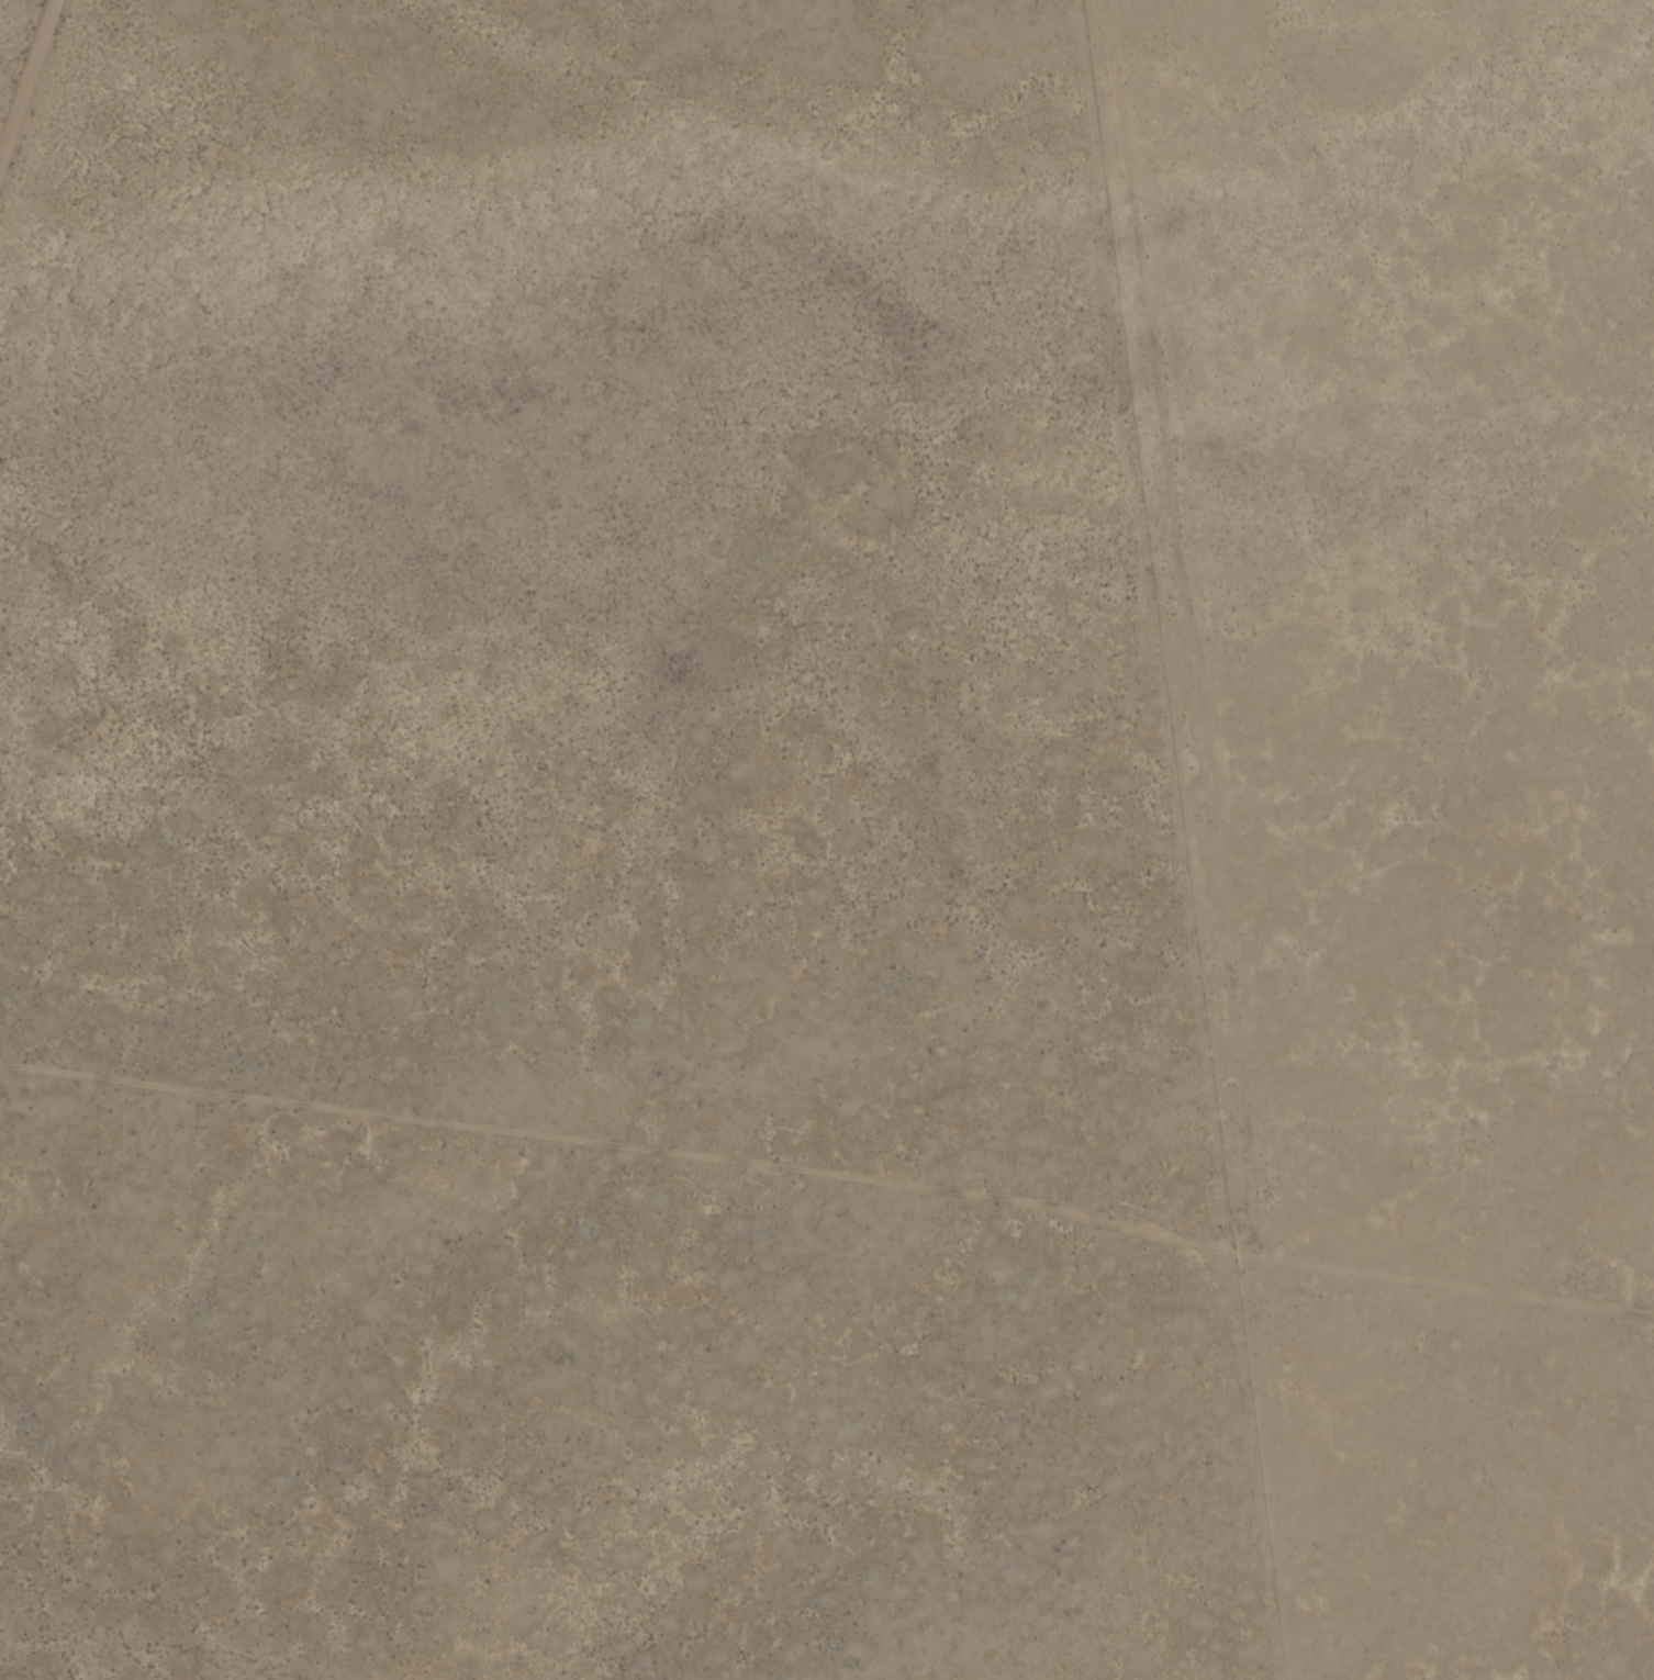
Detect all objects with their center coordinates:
road: (32, 90)

